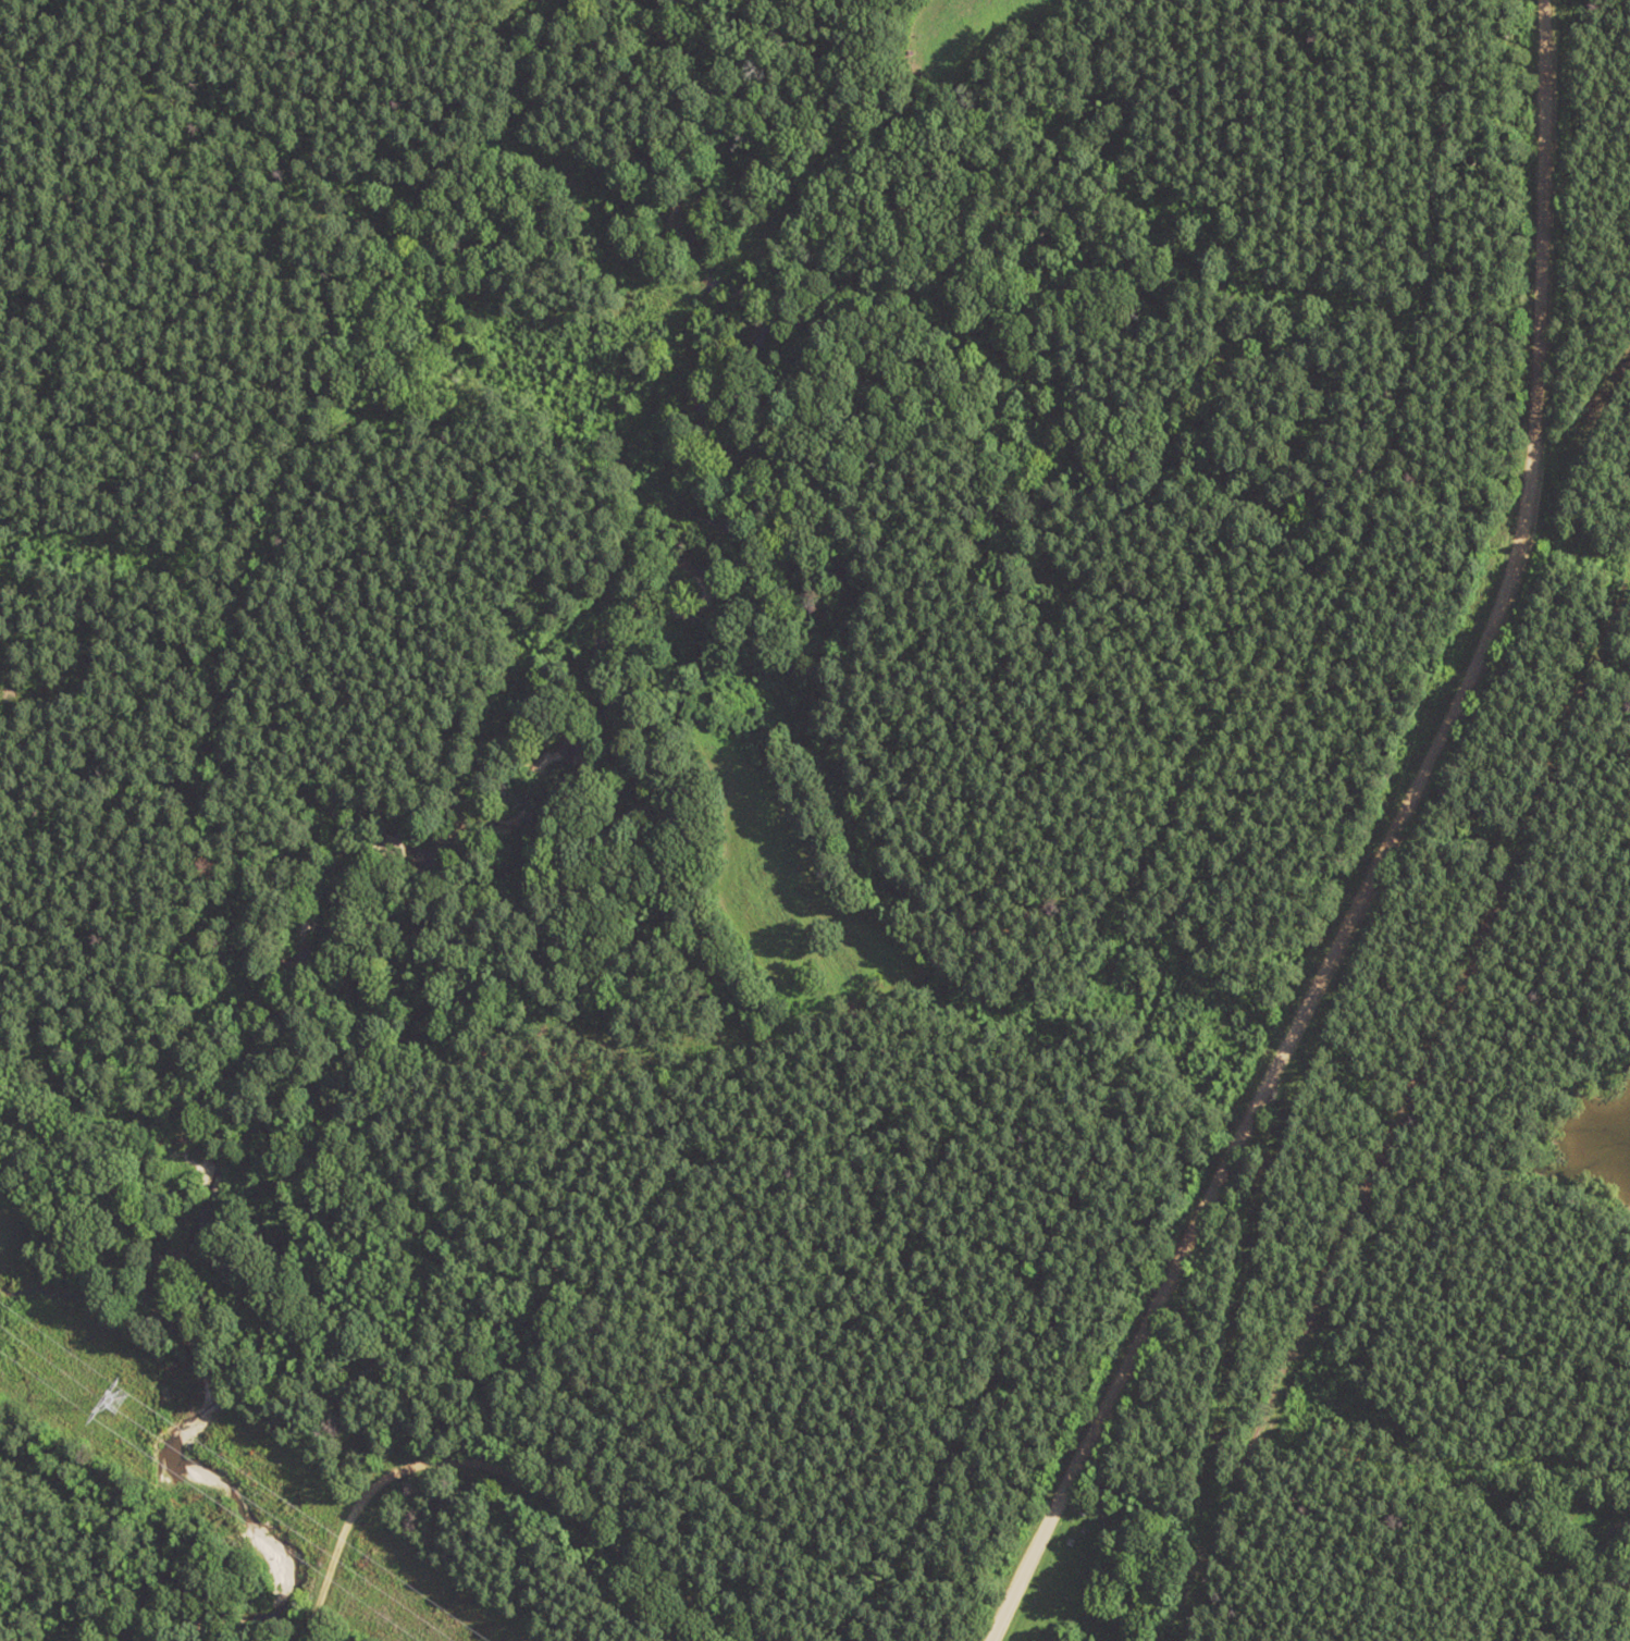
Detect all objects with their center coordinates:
road: (1328, 849)
power tower: (109, 1401)
road: (521, 1517)
road: (317, 1579)

